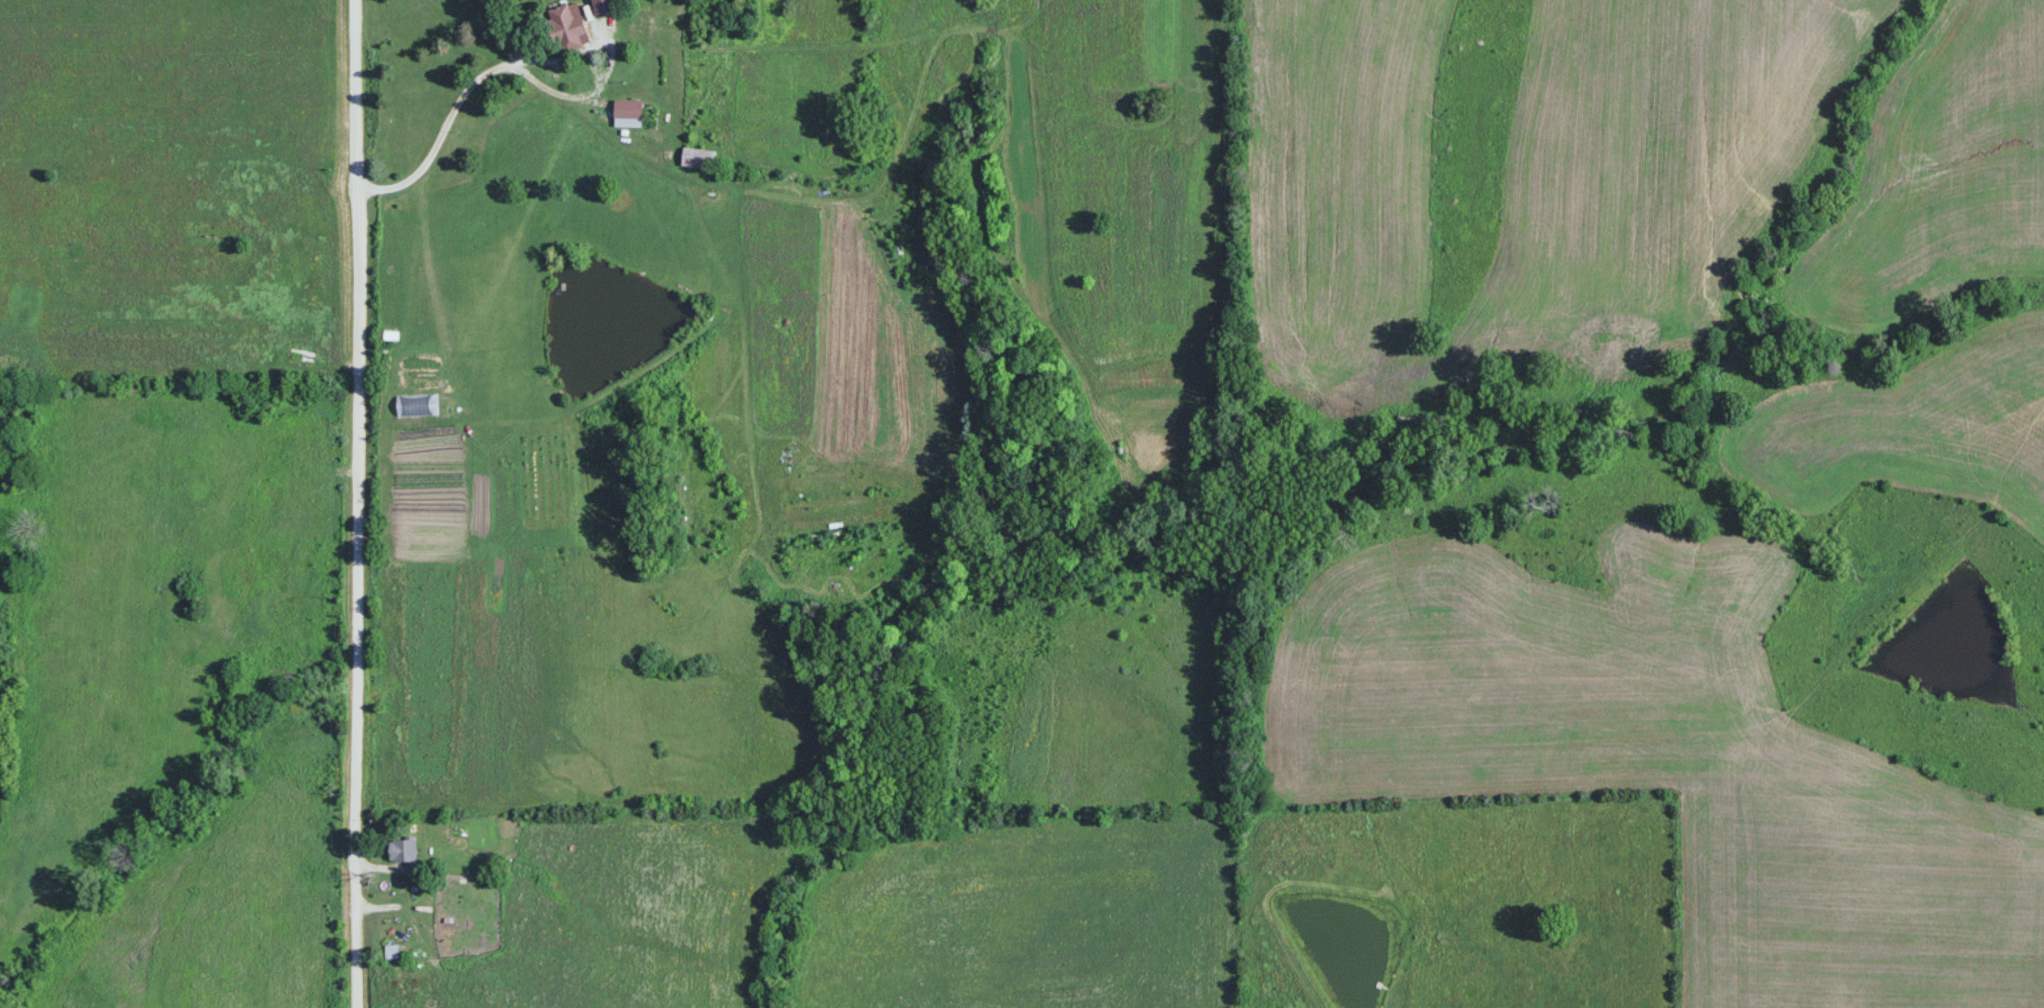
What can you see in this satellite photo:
building: (564, 30)
building: (629, 114)
building: (699, 159)
road: (360, 503)
building: (404, 852)
building: (392, 952)

